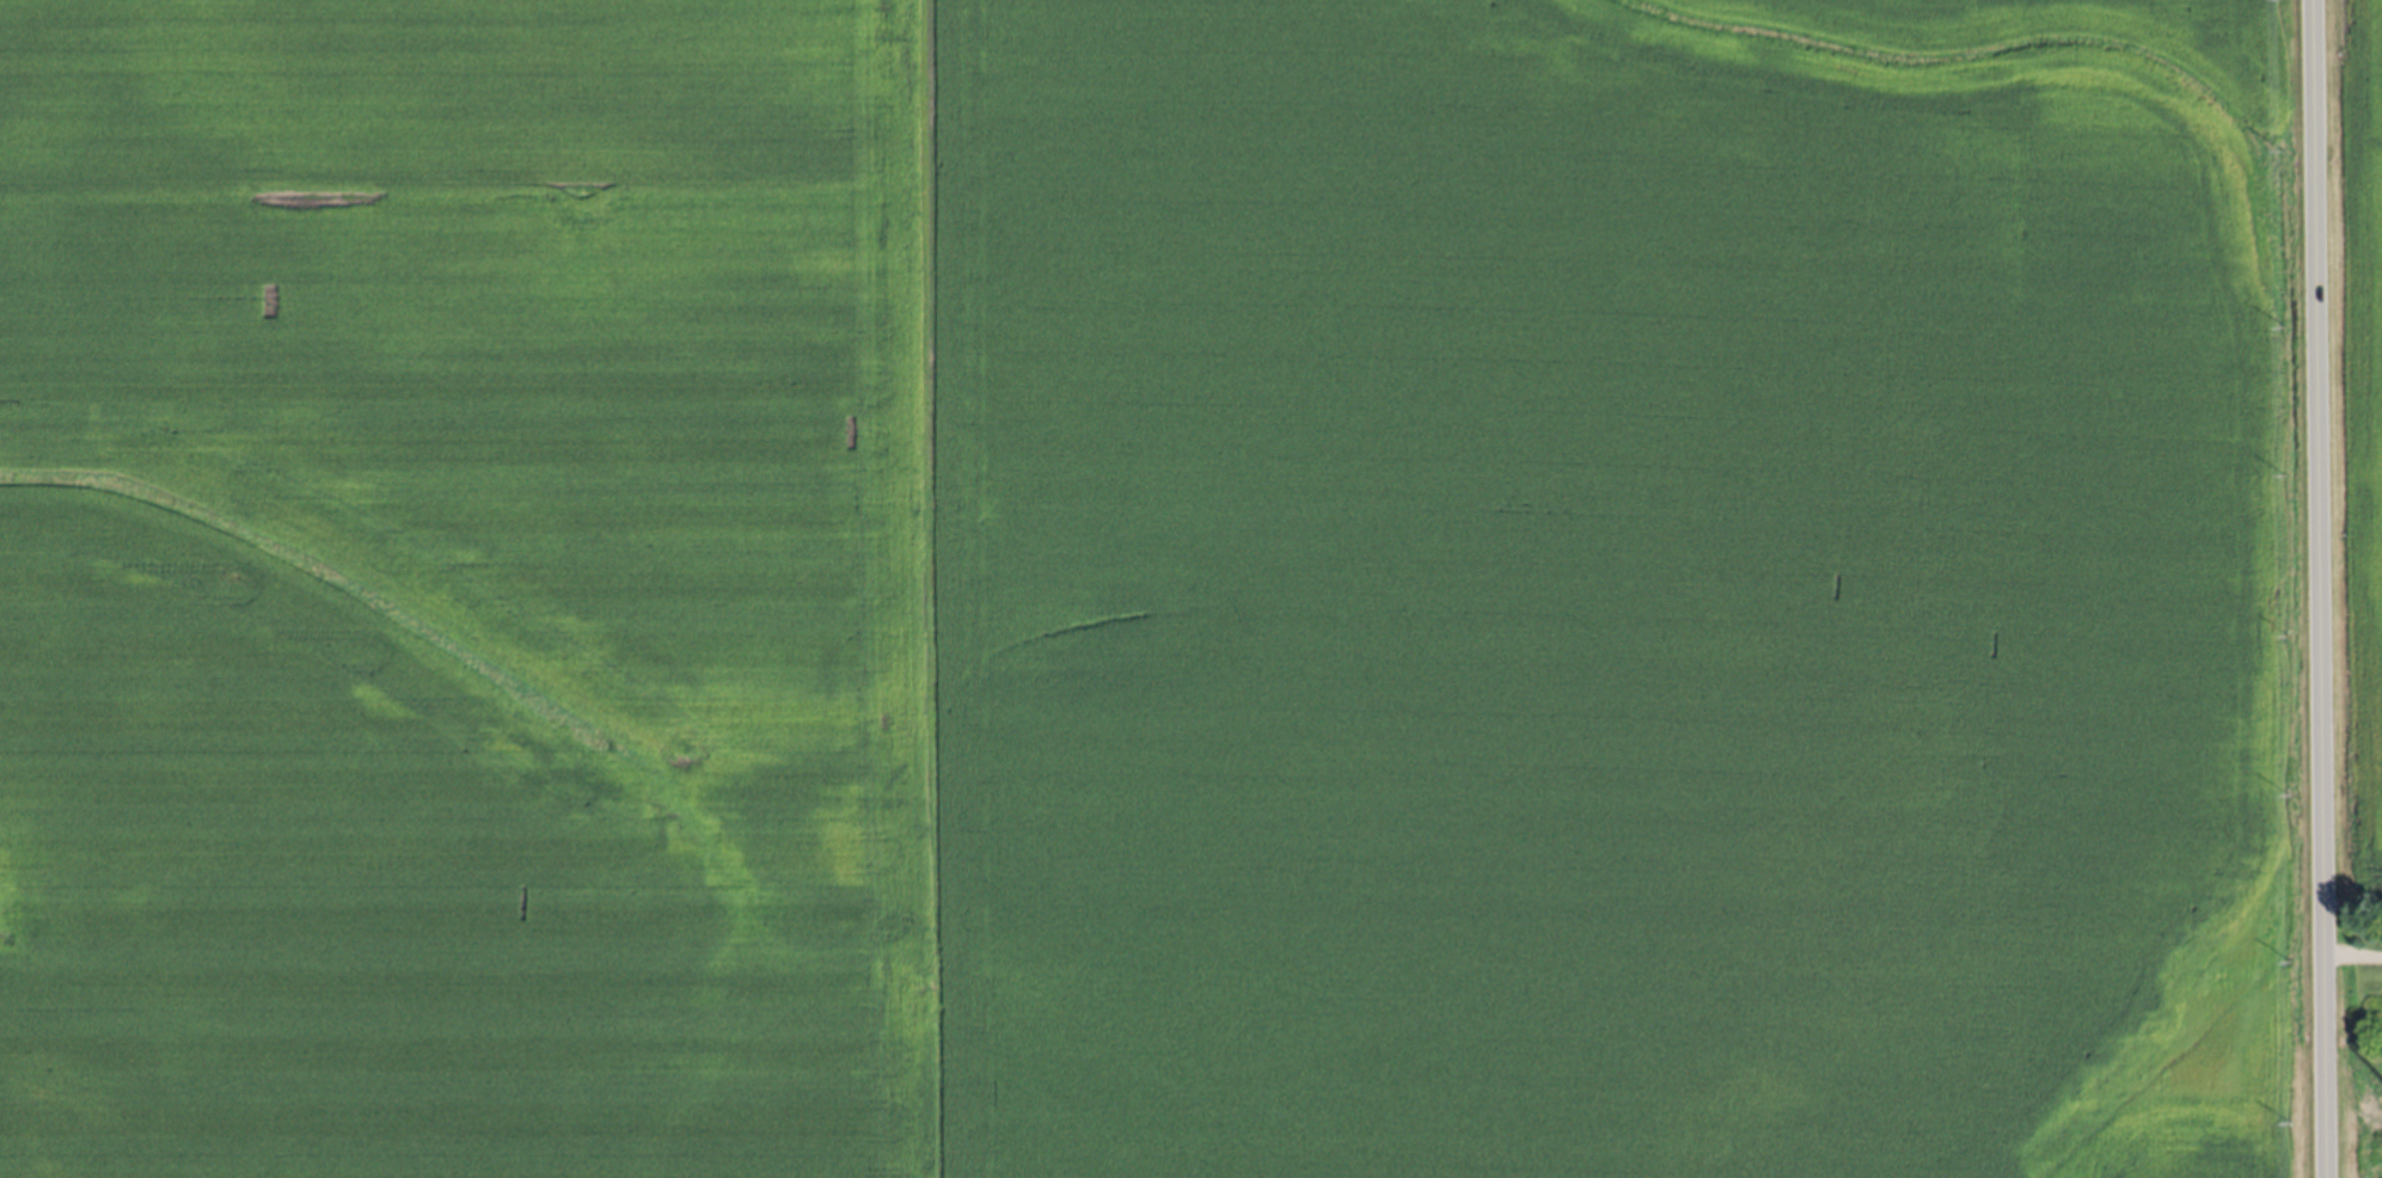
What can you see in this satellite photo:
road: (2317, 588)
road: (2351, 952)

